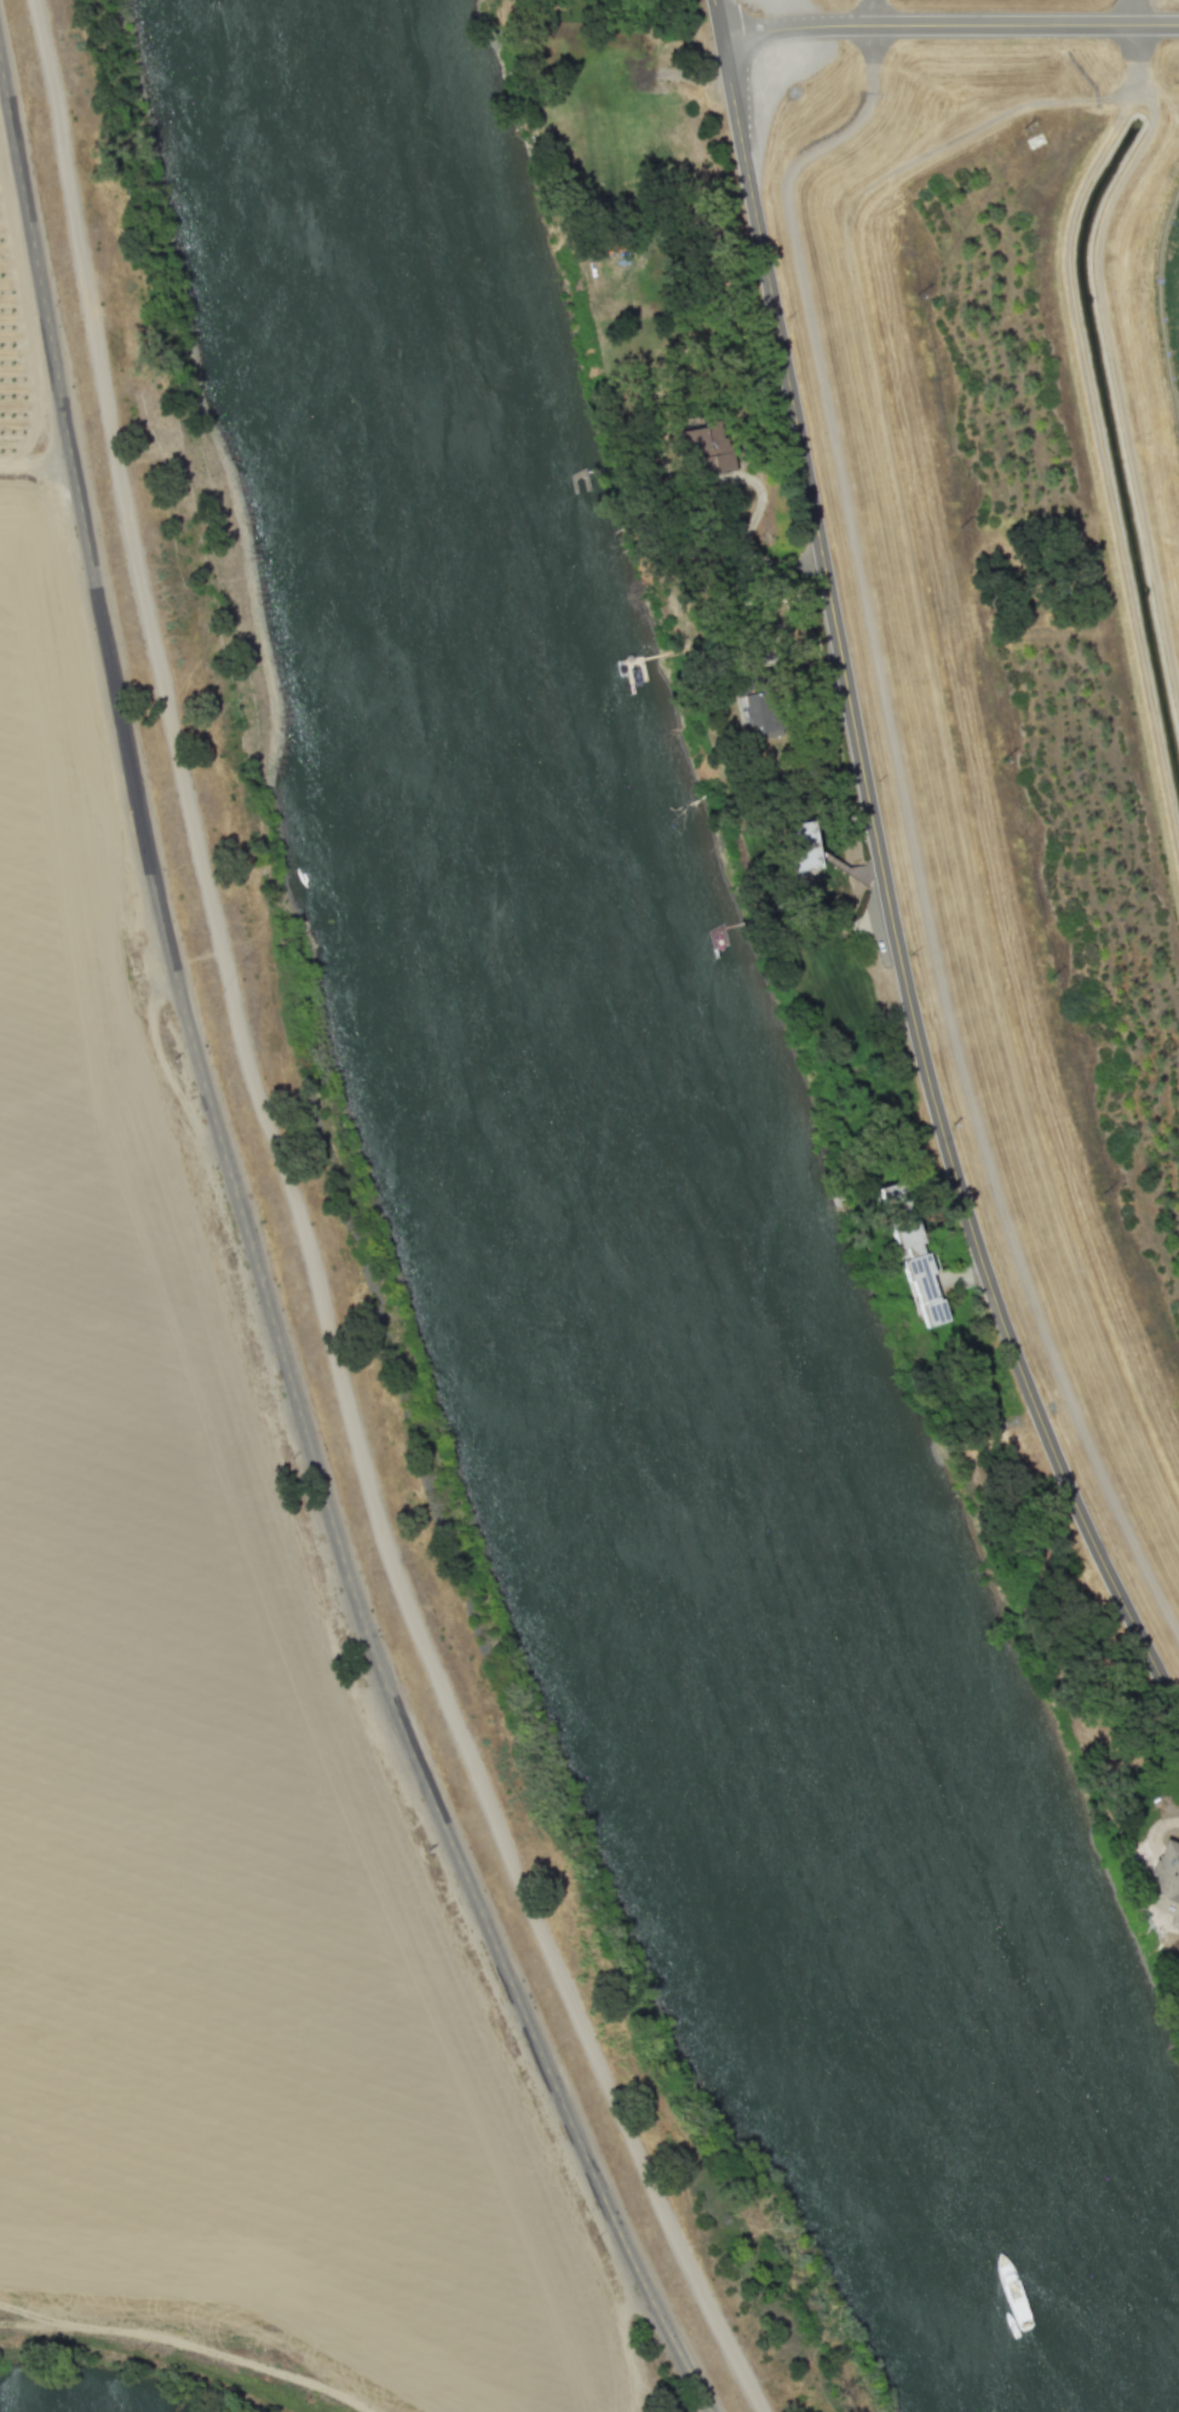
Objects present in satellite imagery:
road: (949, 25)
building: (704, 448)
building: (753, 714)
building: (798, 847)
road: (884, 874)
road: (303, 1236)
river: (615, 1251)
road: (254, 1271)
building: (922, 1290)
crop: (211, 1742)

